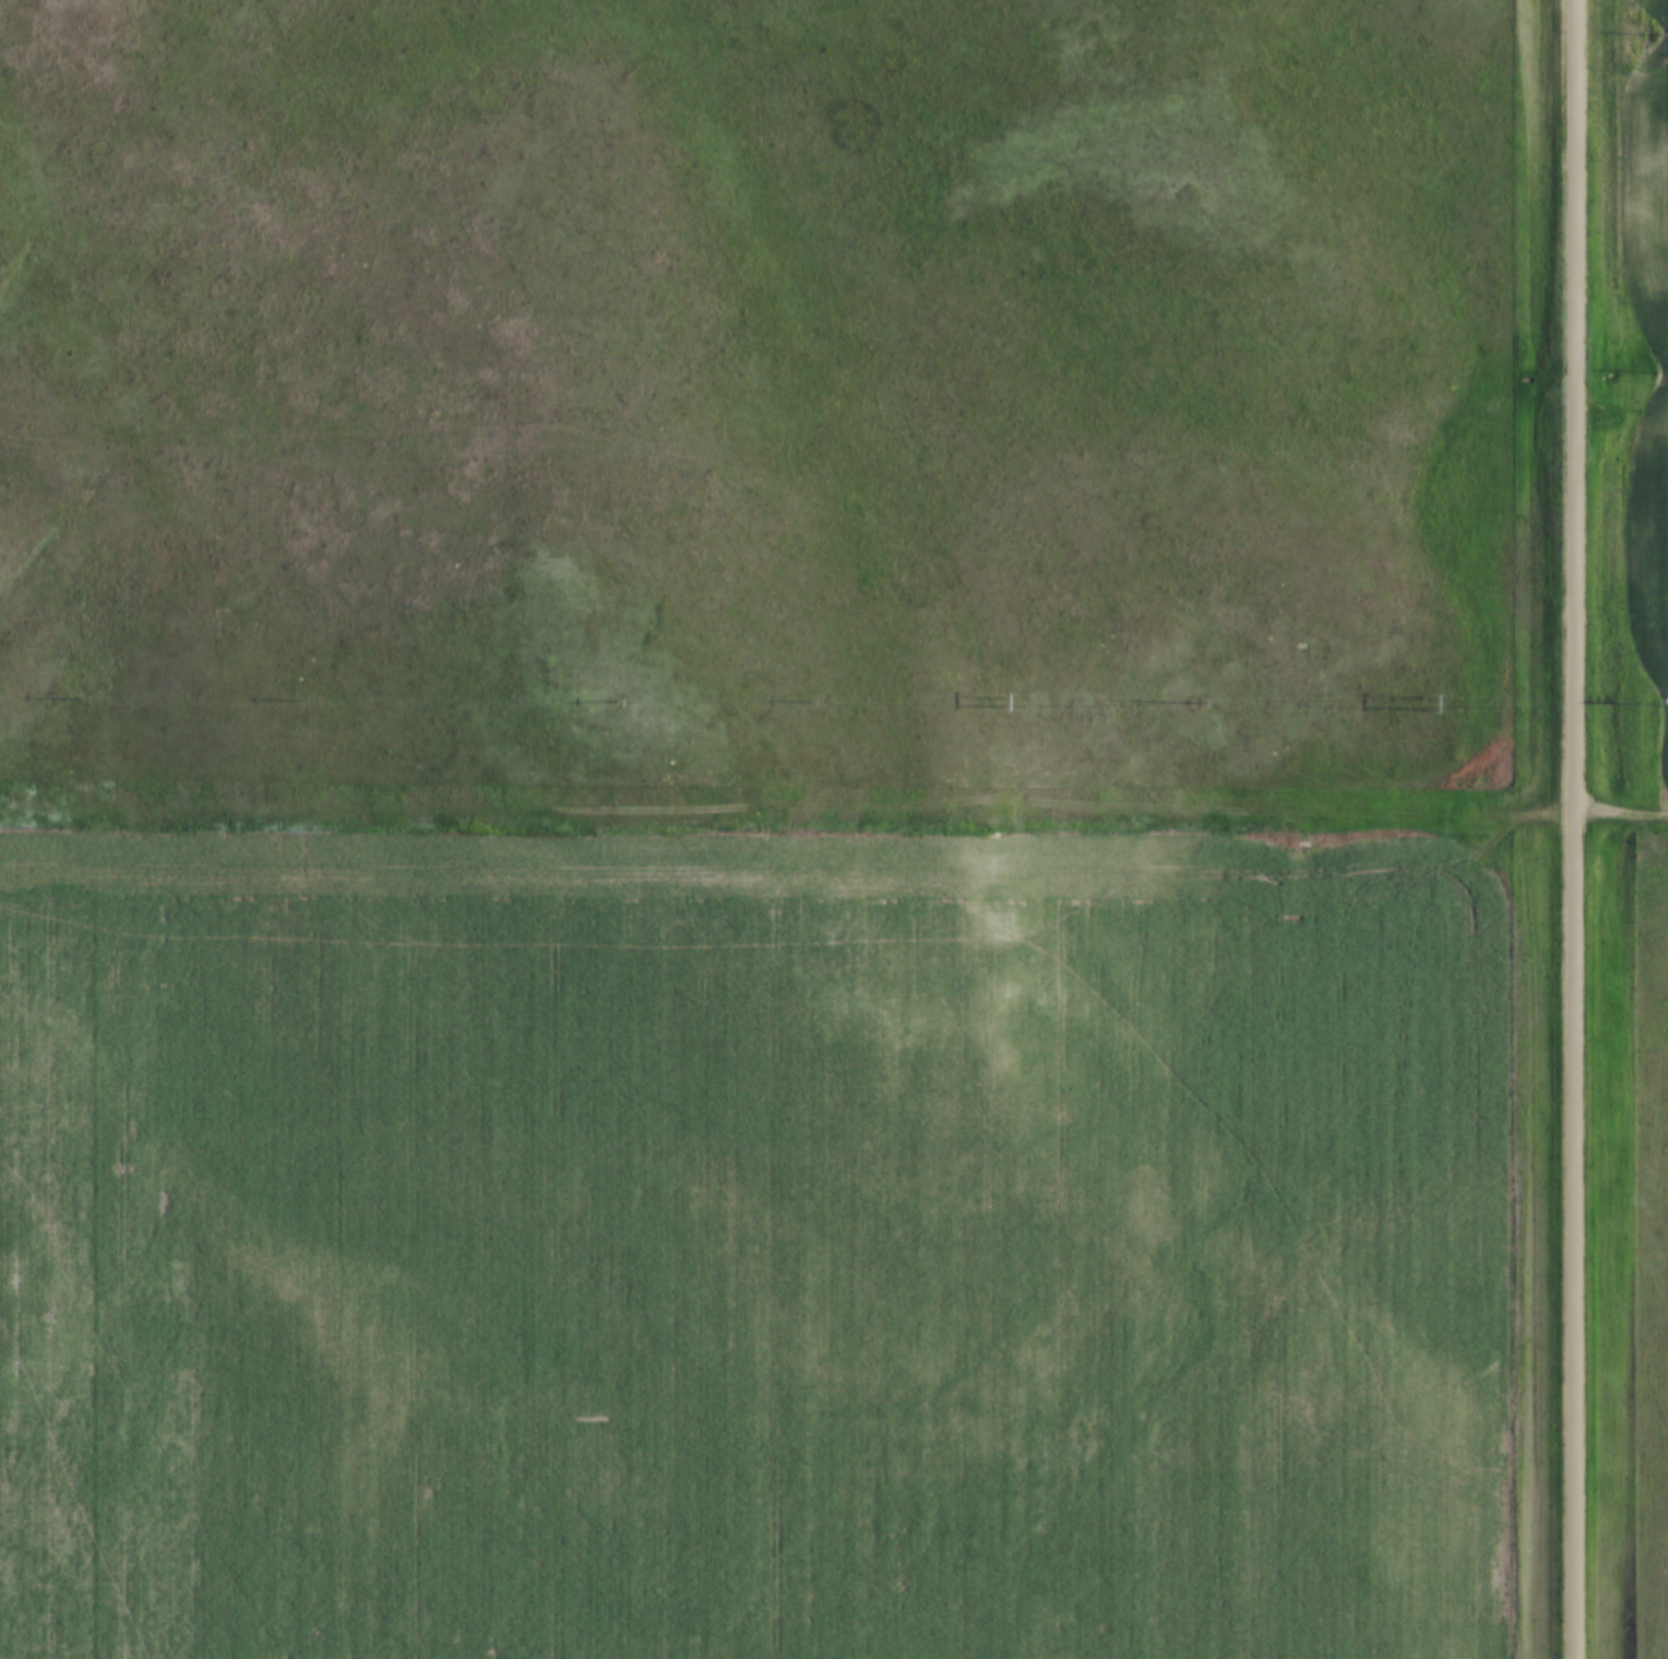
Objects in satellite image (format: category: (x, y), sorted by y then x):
road: (834, 799)
road: (1577, 829)

